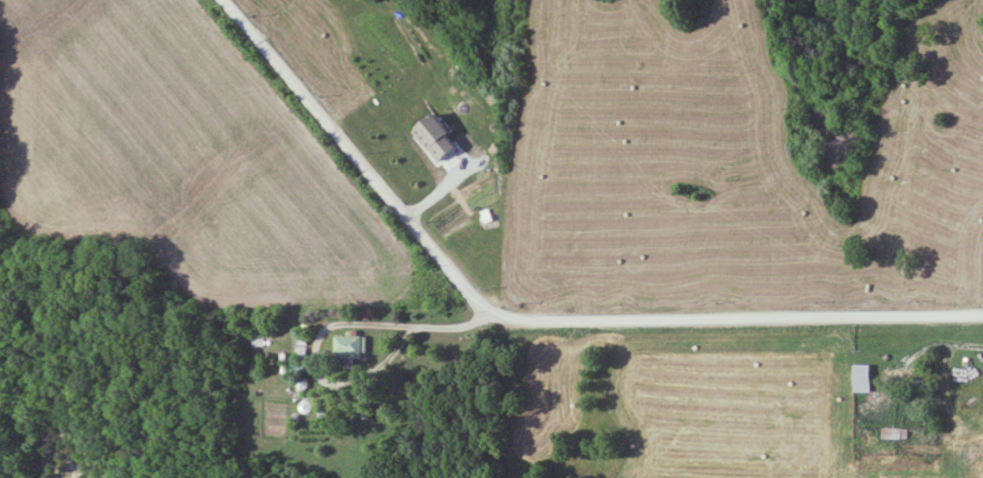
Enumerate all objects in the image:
park: (821, 24)
road: (510, 166)
road: (530, 321)
road: (425, 330)
building: (349, 348)
building: (864, 379)
building: (323, 415)
building: (895, 433)

